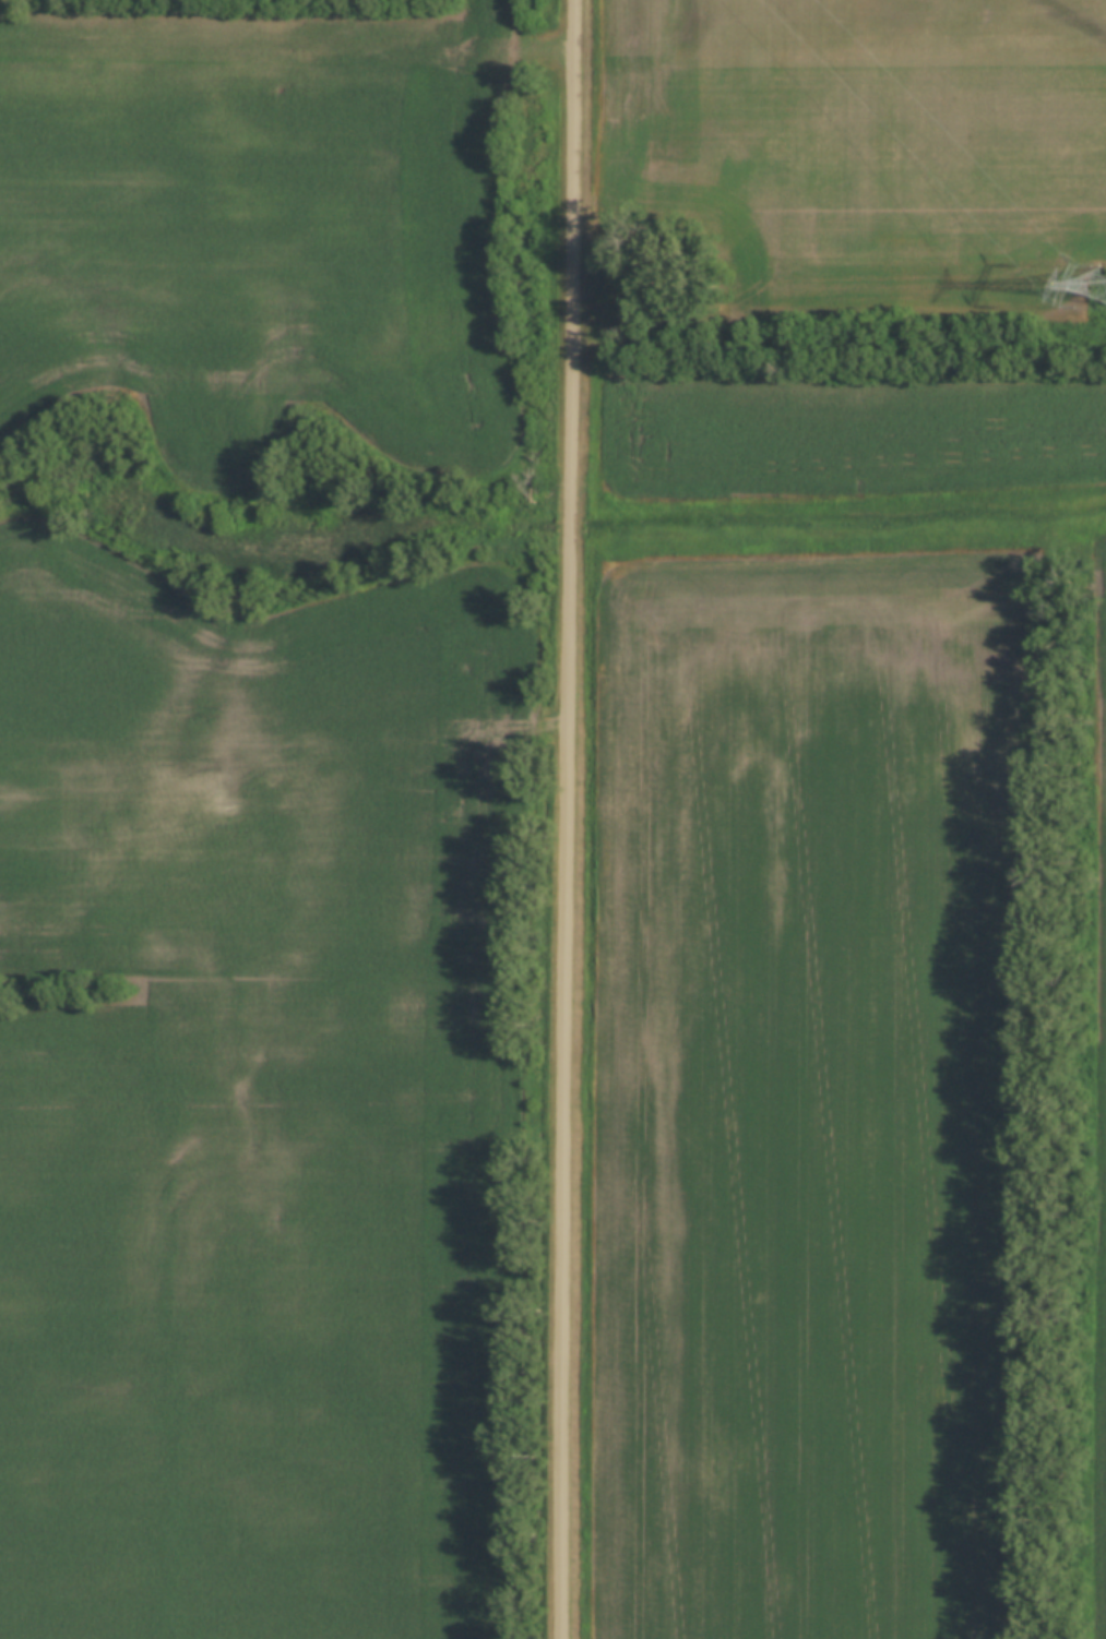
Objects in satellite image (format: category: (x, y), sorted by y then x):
road: (566, 818)

